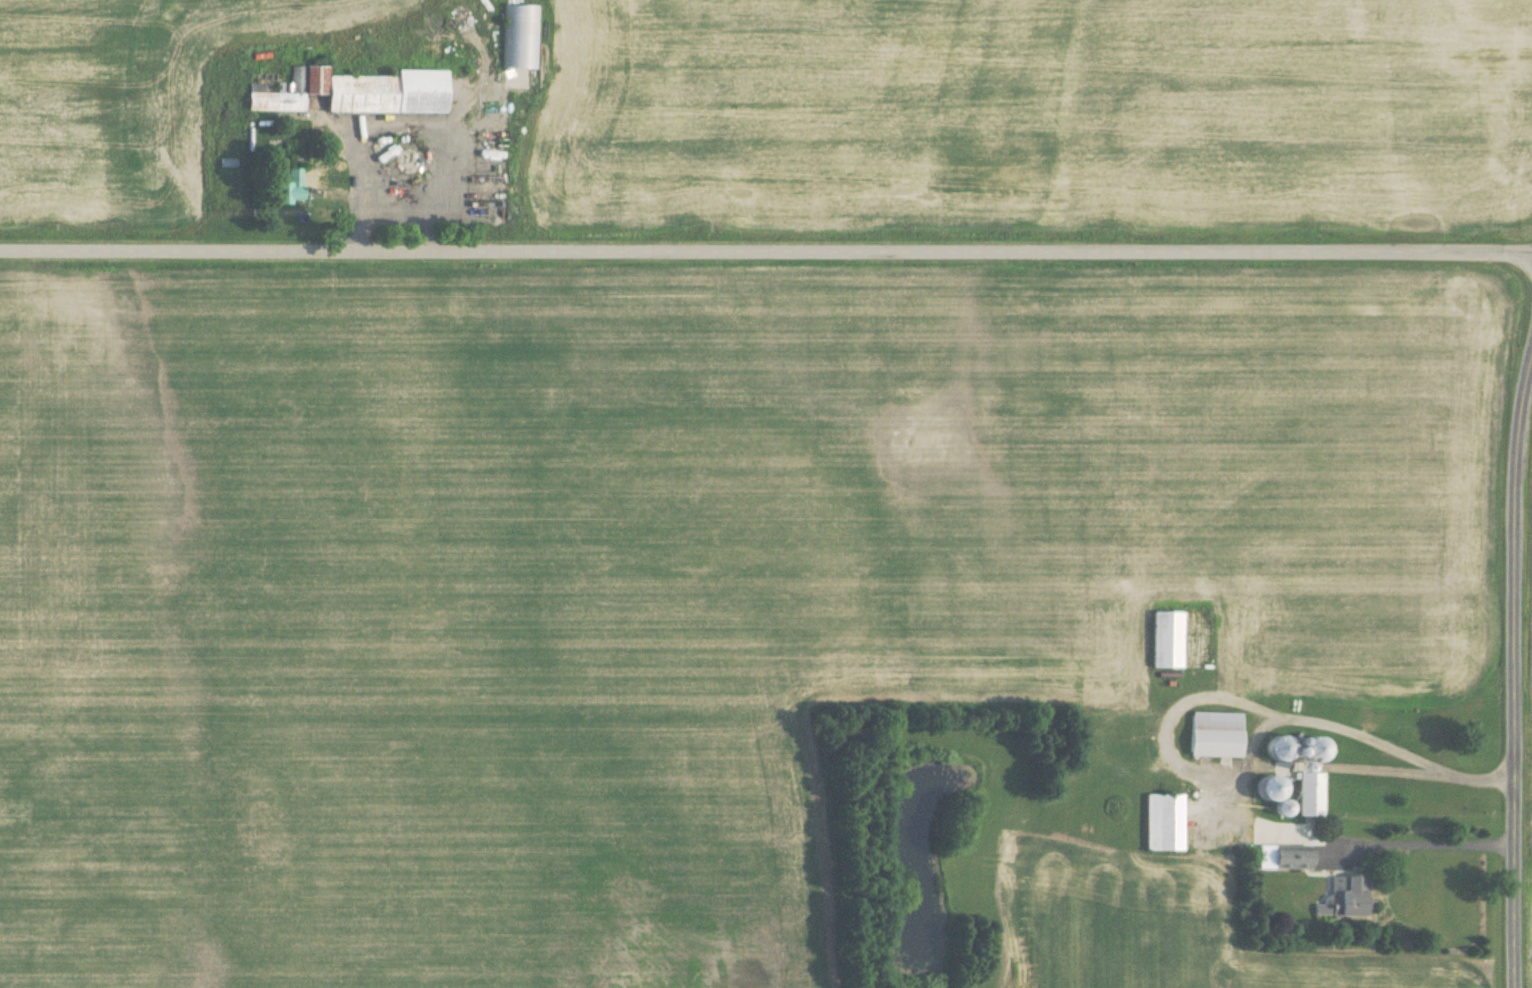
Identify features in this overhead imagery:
building: (520, 44)
building: (315, 79)
building: (388, 92)
building: (279, 93)
road: (402, 124)
building: (288, 186)
road: (387, 210)
road: (765, 255)
building: (1166, 638)
road: (1517, 672)
building: (1215, 733)
building: (1303, 767)
road: (1240, 774)
building: (1311, 793)
building: (1164, 821)
building: (1284, 856)
building: (1344, 896)

